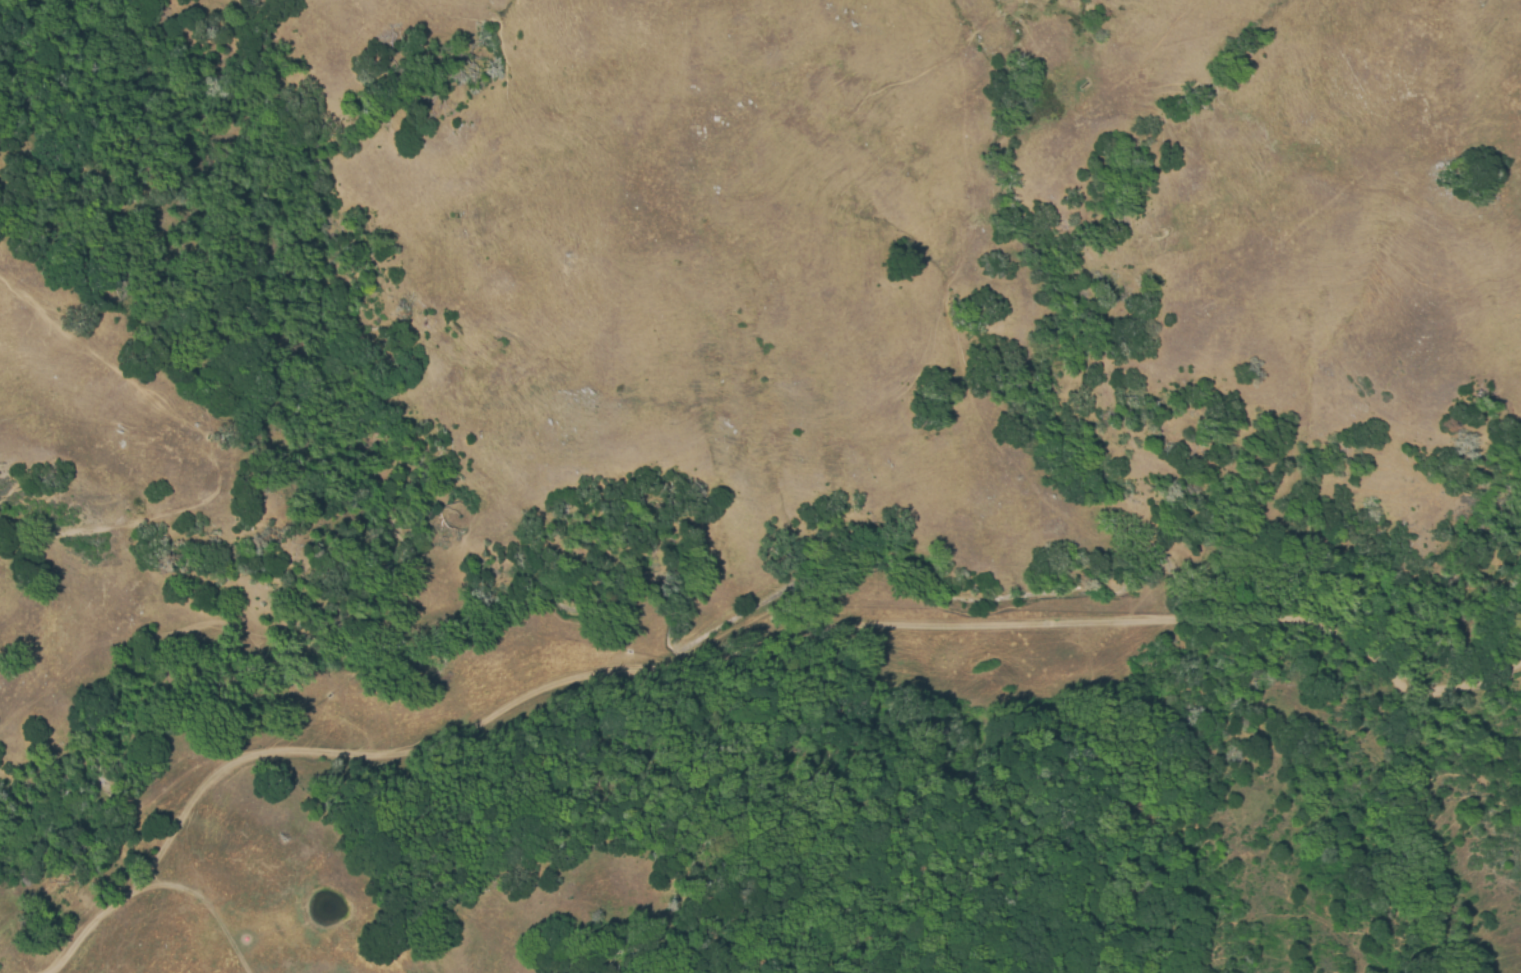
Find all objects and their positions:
road: (725, 669)

